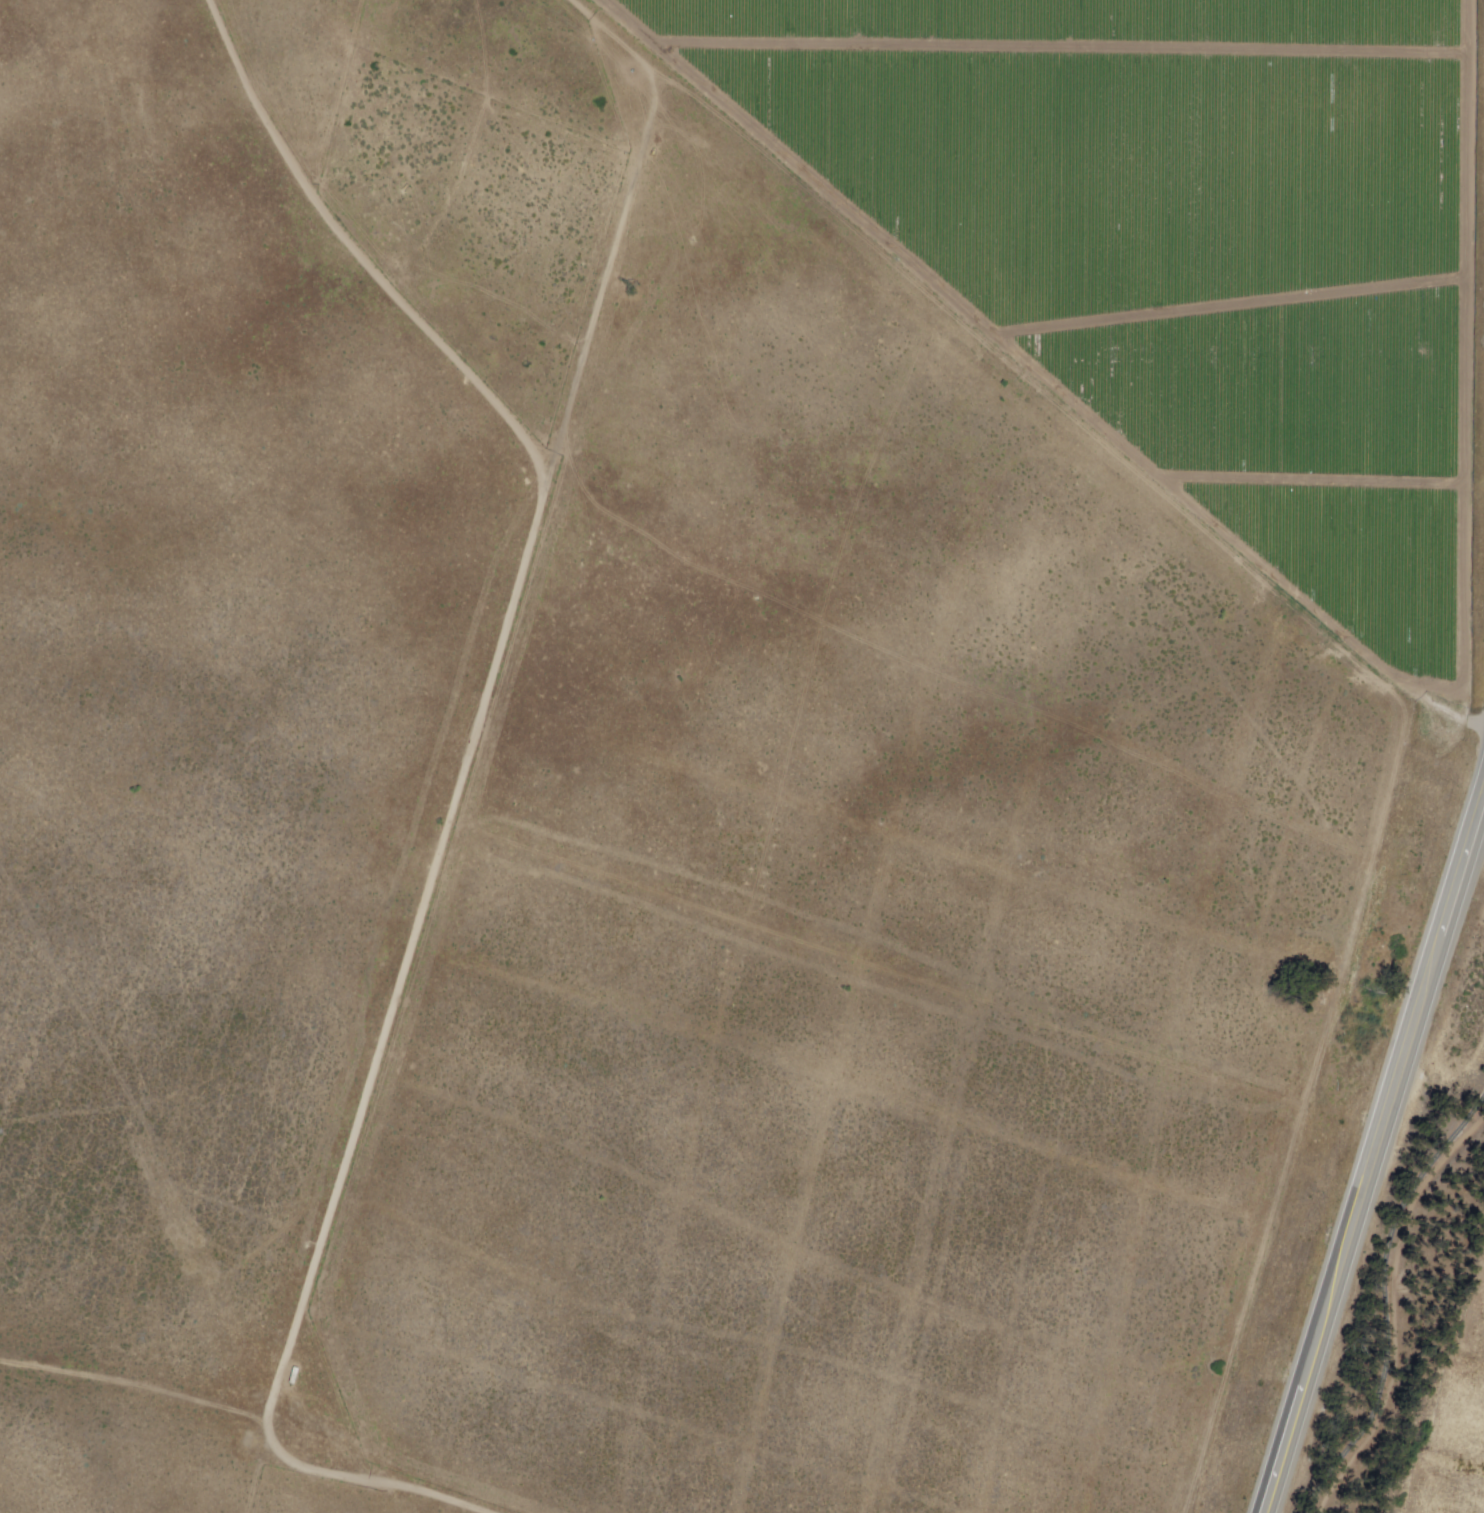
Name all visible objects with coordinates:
crop: (738, 16)
crop: (1138, 19)
crop: (783, 94)
crop: (1149, 188)
crop: (1284, 462)
road: (415, 904)
road: (1370, 1148)
road: (1384, 1291)
road: (254, 1424)

